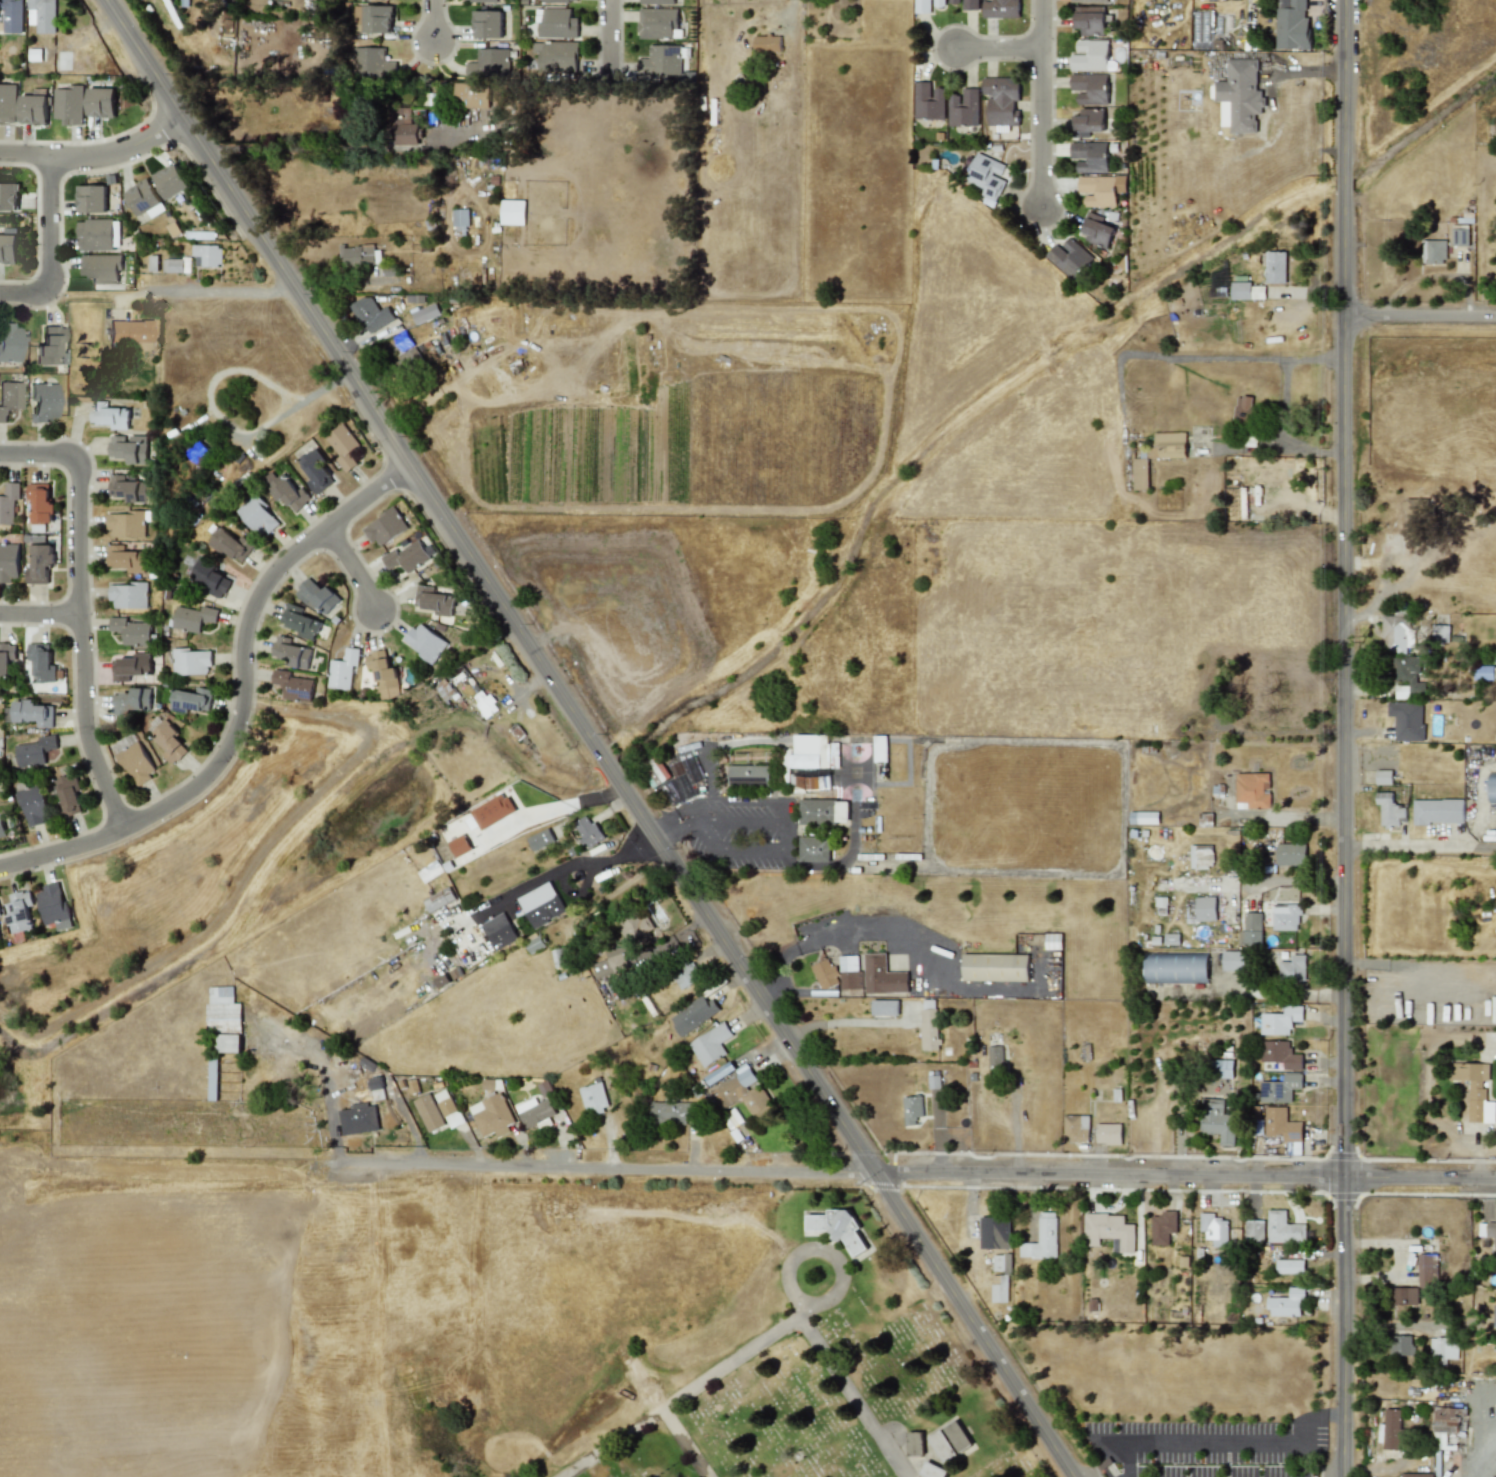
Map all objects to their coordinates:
building: (479, 0)
building: (561, 0)
building: (656, 1)
building: (1088, 1)
building: (965, 4)
building: (926, 5)
building: (1000, 8)
building: (42, 15)
building: (12, 16)
building: (373, 19)
road: (434, 19)
building: (1088, 19)
road: (791, 20)
building: (557, 23)
building: (658, 23)
building: (487, 24)
building: (1291, 25)
road: (609, 40)
building: (767, 43)
road: (999, 49)
building: (556, 55)
building: (1090, 55)
building: (661, 60)
building: (372, 63)
building: (489, 63)
building: (1089, 88)
building: (1240, 94)
building: (471, 95)
building: (1001, 99)
building: (100, 101)
building: (928, 101)
building: (7, 103)
road: (1042, 103)
building: (68, 104)
building: (963, 107)
building: (33, 109)
building: (1087, 122)
building: (404, 126)
road: (119, 146)
road: (271, 147)
road: (25, 155)
building: (1089, 156)
building: (986, 177)
building: (171, 180)
building: (1101, 189)
building: (8, 196)
building: (91, 198)
building: (143, 198)
building: (512, 211)
building: (460, 221)
building: (1097, 231)
building: (98, 234)
building: (1459, 234)
building: (8, 248)
road: (49, 251)
building: (1433, 252)
building: (206, 254)
building: (359, 255)
building: (1069, 257)
building: (175, 265)
building: (101, 267)
building: (1275, 267)
building: (1246, 290)
road: (210, 292)
building: (365, 311)
building: (425, 313)
road: (1419, 315)
building: (130, 333)
building: (9, 342)
building: (48, 345)
building: (9, 398)
building: (42, 402)
road: (1281, 402)
road: (297, 404)
building: (1242, 409)
building: (109, 415)
building: (1170, 444)
building: (345, 446)
building: (129, 447)
building: (197, 451)
building: (315, 471)
building: (1139, 473)
building: (128, 488)
building: (288, 492)
building: (8, 502)
building: (40, 502)
building: (1414, 507)
building: (258, 515)
building: (126, 523)
building: (385, 527)
building: (230, 544)
building: (408, 555)
building: (126, 559)
building: (9, 561)
building: (40, 563)
road: (351, 568)
building: (210, 578)
building: (129, 594)
building: (318, 596)
building: (434, 600)
road: (80, 608)
road: (40, 615)
building: (194, 617)
building: (300, 621)
building: (1395, 630)
building: (132, 631)
building: (1440, 633)
building: (425, 642)
building: (291, 652)
building: (6, 656)
building: (192, 661)
building: (41, 662)
building: (131, 666)
building: (343, 669)
building: (1483, 672)
building: (383, 673)
building: (1407, 676)
building: (294, 685)
building: (192, 699)
building: (132, 700)
road: (244, 703)
building: (484, 703)
building: (33, 713)
building: (1406, 720)
road: (1282, 732)
road: (591, 738)
road: (1342, 738)
building: (169, 741)
building: (879, 748)
building: (34, 751)
building: (810, 751)
building: (134, 759)
building: (748, 774)
building: (1383, 776)
road: (705, 777)
building: (682, 779)
building: (810, 782)
building: (1491, 787)
building: (1252, 789)
building: (69, 793)
road: (750, 800)
building: (34, 804)
building: (1389, 809)
building: (492, 811)
road: (680, 811)
building: (823, 811)
building: (1437, 811)
building: (1143, 817)
road: (751, 821)
road: (715, 825)
road: (787, 825)
road: (685, 827)
building: (2, 828)
building: (588, 831)
building: (540, 839)
building: (459, 845)
road: (1419, 846)
building: (814, 848)
road: (752, 851)
building: (1290, 854)
building: (1200, 856)
road: (827, 865)
road: (555, 873)
road: (1274, 879)
building: (438, 899)
building: (539, 904)
building: (54, 905)
building: (1204, 908)
building: (20, 911)
building: (0, 915)
building: (1284, 916)
building: (634, 924)
building: (499, 930)
building: (1251, 930)
building: (0, 936)
building: (1053, 940)
building: (534, 943)
building: (559, 957)
building: (1232, 960)
building: (612, 961)
road: (940, 966)
road: (1418, 966)
building: (995, 967)
building: (1175, 967)
building: (1291, 970)
building: (849, 972)
building: (685, 973)
road: (781, 974)
building: (824, 974)
building: (881, 975)
building: (884, 1007)
building: (222, 1009)
building: (693, 1014)
building: (1280, 1020)
road: (838, 1021)
building: (928, 1024)
building: (227, 1042)
building: (710, 1044)
building: (1279, 1053)
building: (994, 1056)
building: (1221, 1068)
building: (720, 1072)
building: (212, 1075)
building: (1279, 1088)
building: (1474, 1089)
road: (327, 1092)
building: (743, 1092)
building: (594, 1098)
building: (448, 1108)
building: (911, 1109)
building: (534, 1111)
building: (429, 1112)
building: (671, 1112)
building: (491, 1114)
building: (356, 1118)
building: (733, 1118)
building: (1216, 1120)
road: (1433, 1123)
building: (1281, 1124)
building: (1075, 1128)
building: (1107, 1133)
building: (1294, 1148)
road: (916, 1169)
building: (837, 1226)
building: (1162, 1227)
building: (1283, 1228)
building: (1214, 1229)
building: (1488, 1229)
building: (1108, 1230)
building: (1254, 1231)
building: (994, 1232)
building: (1042, 1239)
building: (1002, 1262)
building: (1290, 1266)
building: (1426, 1268)
building: (999, 1288)
building: (1405, 1295)
road: (825, 1303)
building: (1286, 1303)
road: (801, 1309)
building: (1494, 1316)
road: (805, 1326)
road: (1397, 1326)
building: (1401, 1345)
building: (1443, 1347)
park: (817, 1369)
road: (643, 1418)
road: (1319, 1418)
building: (1390, 1428)
building: (1446, 1428)
road: (1201, 1440)
building: (950, 1441)
building: (915, 1443)
road: (1117, 1455)
road: (1305, 1458)
road: (1483, 1460)
building: (932, 1471)
building: (1417, 1475)

